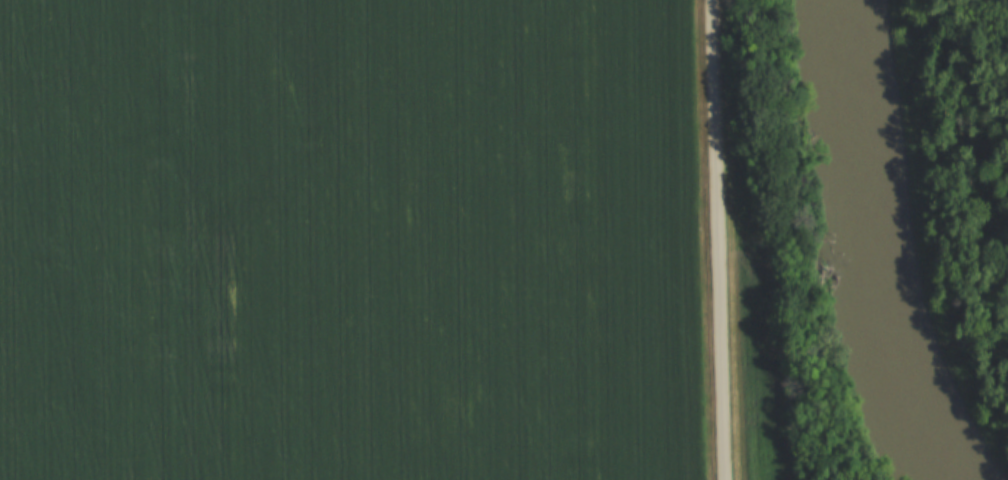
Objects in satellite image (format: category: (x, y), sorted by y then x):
road: (718, 239)
river: (872, 244)

